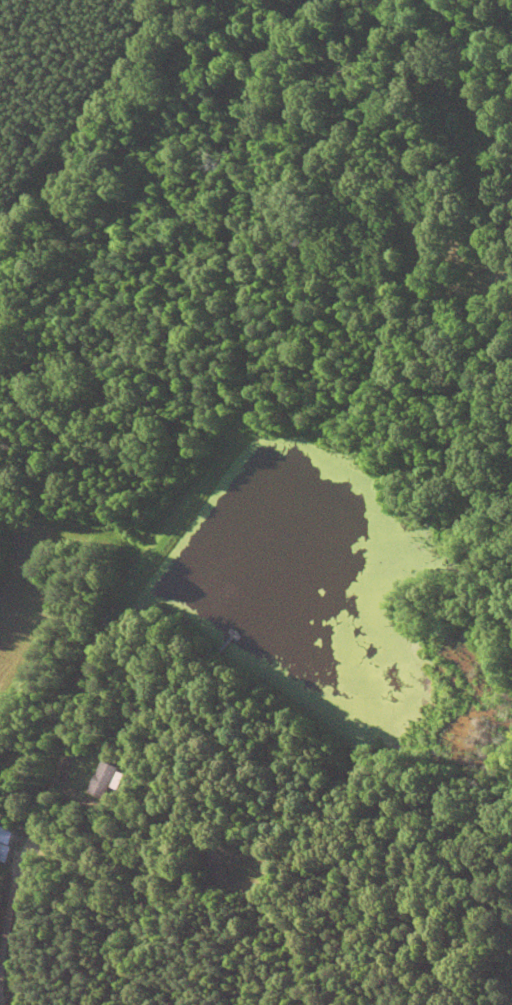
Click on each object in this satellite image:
building: (100, 779)
building: (3, 852)

